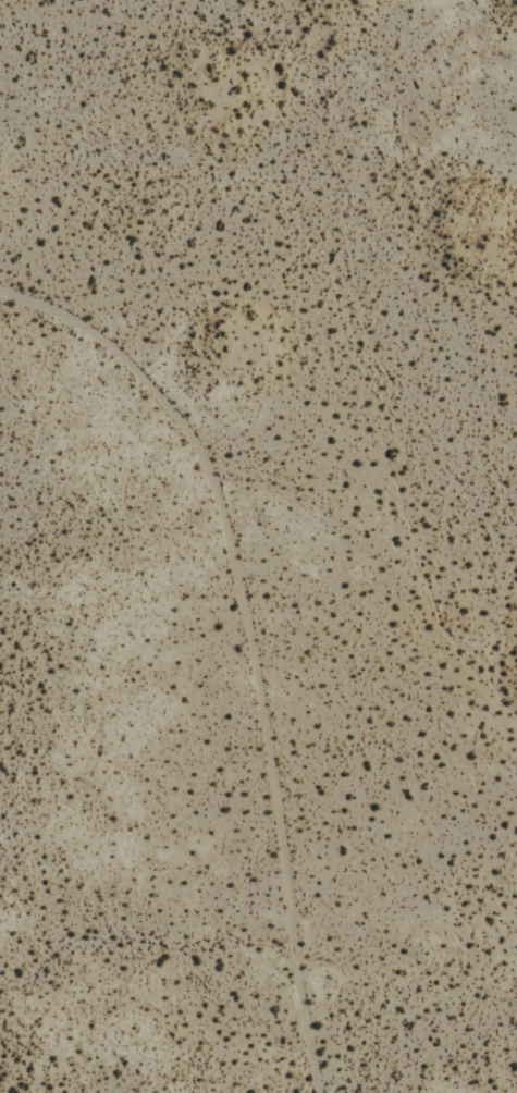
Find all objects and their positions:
road: (151, 384)
road: (281, 818)

